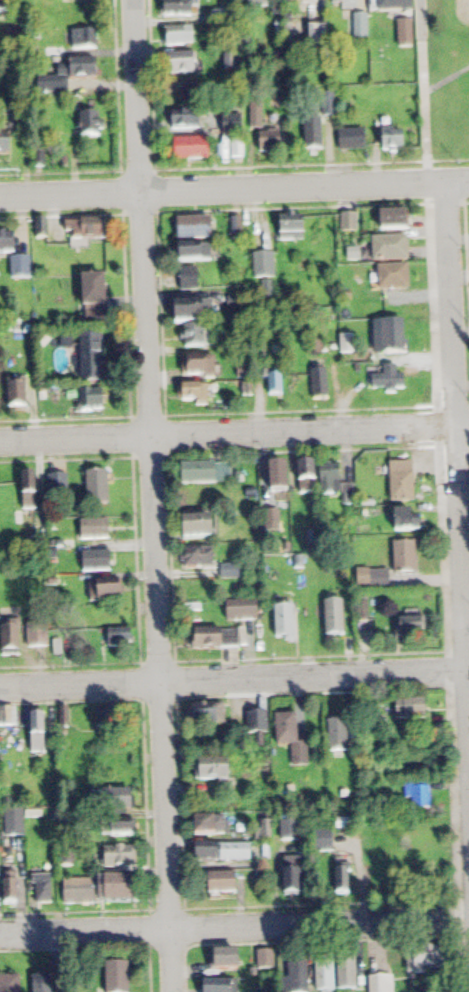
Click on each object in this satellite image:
park: (450, 75)

